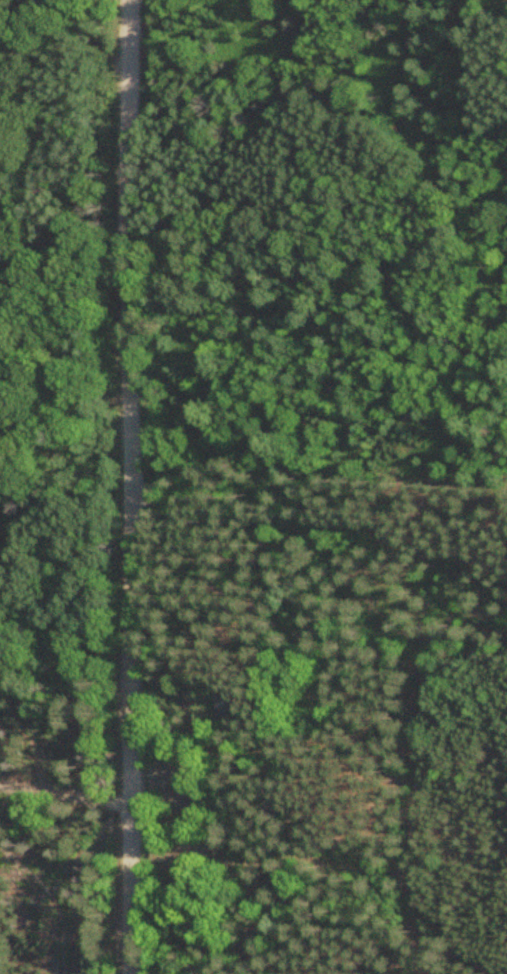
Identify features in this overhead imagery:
road: (127, 487)
building: (227, 705)
road: (65, 790)

